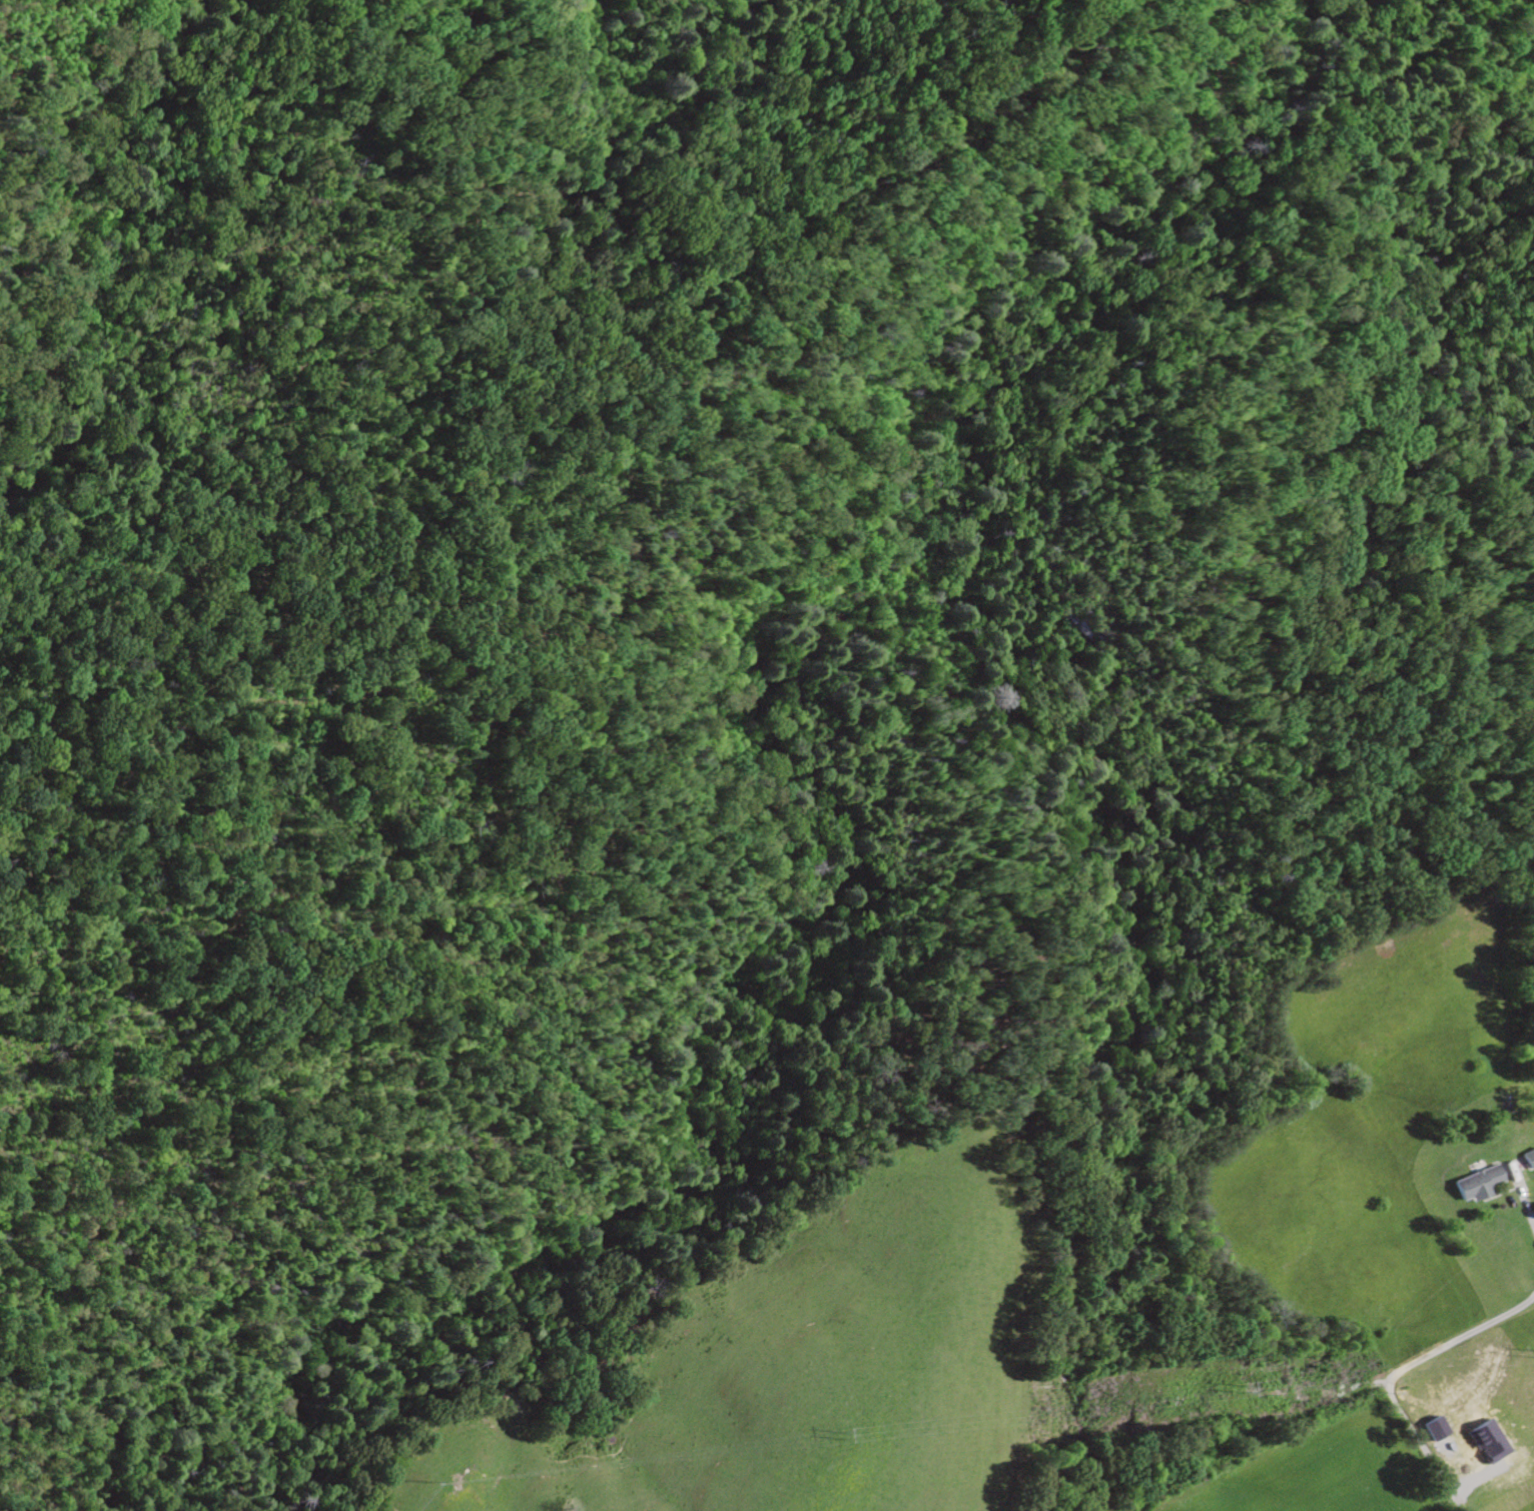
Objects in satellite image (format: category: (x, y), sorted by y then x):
building: (1523, 1159)
building: (1472, 1184)
road: (1525, 1222)
road: (1429, 1356)
building: (1430, 1429)
building: (1483, 1442)
road: (1437, 1479)

